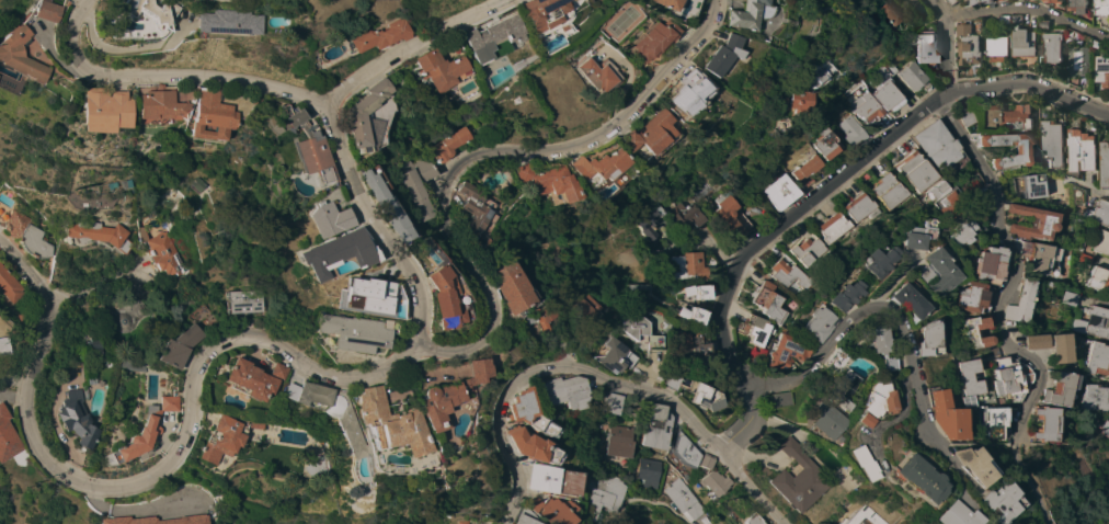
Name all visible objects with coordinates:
building: (950, 1)
building: (973, 1)
building: (1042, 1)
building: (655, 3)
building: (914, 3)
building: (1076, 5)
building: (1101, 7)
road: (1028, 8)
road: (952, 9)
building: (36, 11)
building: (137, 11)
building: (888, 11)
building: (526, 12)
building: (738, 14)
building: (1004, 18)
building: (1016, 18)
building: (1108, 18)
building: (214, 22)
building: (1042, 23)
building: (365, 35)
building: (477, 35)
building: (969, 41)
building: (642, 42)
building: (1022, 42)
building: (1098, 44)
road: (396, 45)
road: (944, 45)
building: (1051, 45)
building: (925, 47)
building: (995, 47)
building: (5, 50)
building: (712, 55)
road: (882, 58)
building: (1078, 59)
building: (889, 68)
building: (425, 70)
building: (1101, 70)
building: (813, 71)
building: (585, 73)
road: (155, 76)
building: (913, 77)
building: (885, 91)
building: (679, 92)
building: (150, 105)
building: (797, 106)
building: (865, 107)
building: (94, 110)
building: (202, 116)
building: (353, 117)
building: (967, 117)
building: (1004, 117)
building: (850, 132)
building: (641, 134)
building: (1051, 141)
building: (824, 144)
building: (437, 145)
building: (296, 146)
building: (938, 147)
building: (1079, 149)
building: (1021, 150)
building: (1104, 163)
building: (803, 171)
building: (913, 171)
building: (594, 172)
building: (539, 182)
building: (122, 183)
building: (107, 184)
building: (407, 185)
building: (1032, 186)
road: (823, 190)
building: (933, 190)
building: (699, 191)
building: (885, 191)
building: (779, 192)
building: (976, 193)
building: (1077, 194)
building: (979, 203)
building: (946, 205)
building: (375, 206)
building: (857, 207)
building: (1099, 212)
building: (467, 213)
building: (683, 215)
building: (725, 215)
building: (316, 219)
building: (739, 220)
building: (644, 221)
building: (1029, 223)
road: (361, 227)
building: (830, 227)
building: (1108, 228)
building: (23, 232)
building: (912, 233)
building: (957, 233)
building: (98, 235)
building: (1100, 242)
building: (1077, 243)
building: (805, 250)
building: (860, 250)
building: (161, 251)
building: (325, 252)
building: (1036, 255)
building: (871, 260)
building: (1086, 260)
building: (985, 264)
building: (683, 266)
road: (28, 271)
building: (929, 272)
building: (787, 273)
building: (1097, 278)
building: (9, 285)
building: (500, 287)
building: (690, 292)
road: (87, 293)
building: (838, 295)
building: (430, 296)
building: (350, 297)
building: (965, 297)
building: (1068, 298)
building: (237, 301)
building: (899, 301)
building: (1019, 301)
building: (766, 303)
building: (572, 304)
road: (866, 310)
building: (1073, 312)
road: (994, 314)
building: (686, 315)
building: (527, 318)
building: (813, 322)
building: (1093, 322)
building: (624, 326)
building: (752, 329)
building: (341, 332)
building: (969, 332)
building: (919, 339)
building: (864, 340)
building: (1032, 341)
building: (644, 342)
building: (684, 343)
building: (1, 346)
building: (89, 346)
building: (172, 346)
building: (1056, 348)
building: (987, 351)
building: (780, 352)
building: (603, 356)
building: (1096, 358)
building: (825, 361)
road: (382, 364)
building: (876, 364)
building: (126, 365)
road: (542, 368)
building: (243, 378)
building: (1004, 380)
building: (960, 381)
building: (1055, 388)
building: (830, 389)
building: (550, 391)
building: (686, 392)
building: (433, 395)
building: (866, 398)
building: (1094, 398)
building: (619, 399)
building: (773, 400)
building: (598, 403)
building: (317, 411)
building: (516, 413)
road: (880, 414)
building: (935, 415)
building: (69, 419)
building: (815, 420)
building: (850, 420)
building: (1041, 424)
building: (644, 426)
building: (1105, 428)
building: (378, 430)
building: (134, 432)
building: (214, 438)
building: (610, 441)
building: (796, 443)
building: (8, 446)
building: (519, 446)
building: (674, 451)
building: (1076, 457)
building: (848, 464)
building: (961, 465)
building: (307, 466)
road: (935, 468)
building: (640, 472)
building: (701, 477)
building: (786, 478)
building: (904, 478)
building: (542, 479)
road: (743, 489)
building: (598, 491)
building: (676, 499)
building: (987, 502)
building: (544, 510)
building: (940, 515)
building: (513, 517)
building: (841, 517)
building: (119, 520)
building: (743, 520)
building: (450, 522)
road: (696, 523)
building: (1003, 523)

